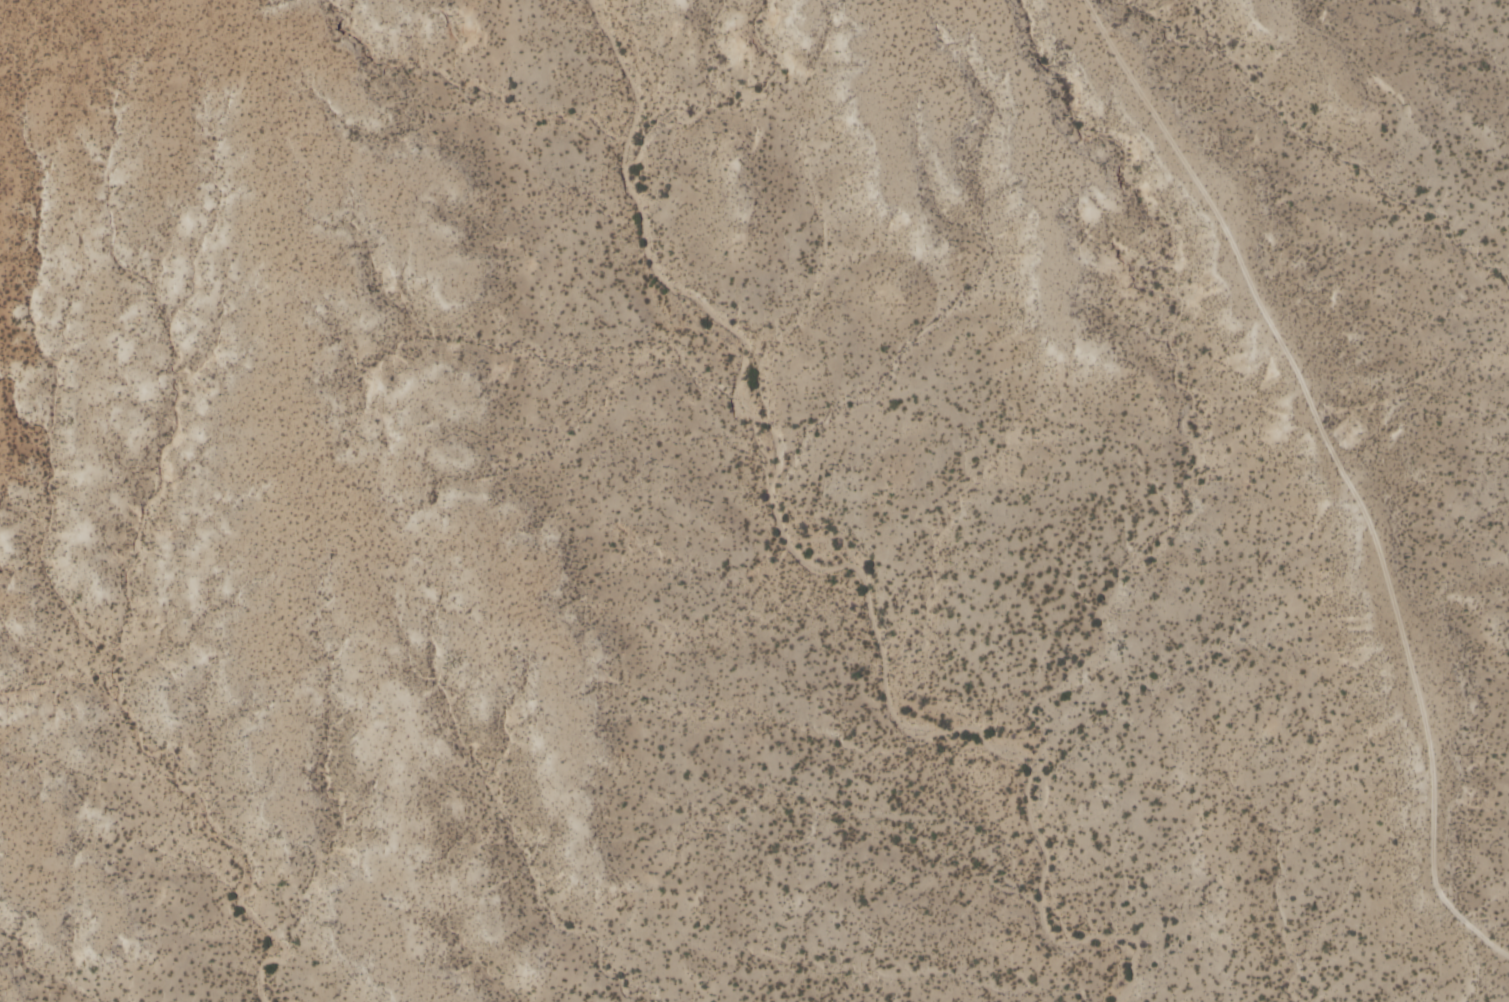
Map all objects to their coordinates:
road: (1343, 469)

